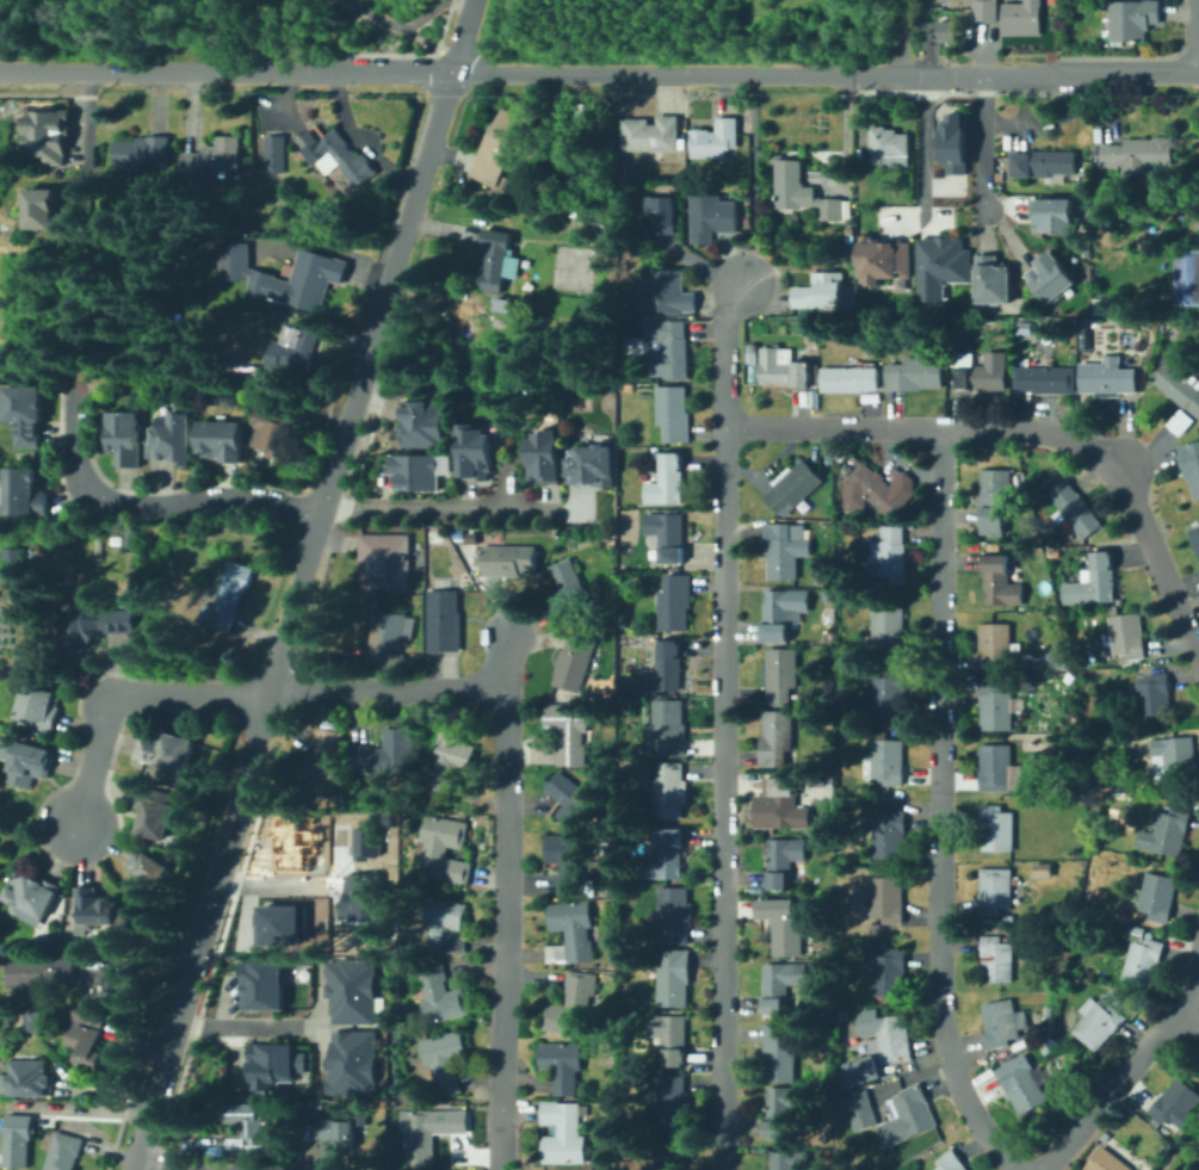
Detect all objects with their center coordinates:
road: (268, 5)
road: (286, 5)
building: (985, 12)
building: (1022, 17)
building: (1133, 20)
road: (410, 21)
park: (214, 27)
building: (945, 27)
road: (194, 31)
road: (314, 31)
street lamp: (445, 36)
road: (1198, 36)
road: (464, 37)
road: (895, 37)
road: (410, 38)
road: (407, 52)
road: (1185, 52)
road: (1132, 55)
road: (443, 62)
road: (1126, 72)
road: (425, 73)
road: (952, 74)
road: (86, 82)
road: (1016, 91)
road: (48, 93)
building: (47, 134)
road: (85, 134)
building: (649, 134)
building: (716, 140)
road: (982, 141)
road: (922, 142)
building: (953, 142)
building: (500, 147)
building: (889, 147)
building: (146, 153)
building: (278, 153)
building: (1139, 154)
building: (336, 155)
building: (216, 157)
building: (1044, 163)
road: (749, 178)
building: (625, 182)
building: (801, 188)
building: (661, 211)
building: (54, 215)
building: (1057, 215)
road: (410, 216)
building: (711, 217)
building: (744, 221)
building: (847, 222)
building: (601, 230)
building: (848, 239)
building: (624, 252)
building: (1087, 252)
building: (885, 256)
building: (497, 260)
building: (941, 266)
building: (1053, 276)
building: (1191, 277)
building: (254, 278)
building: (996, 279)
building: (901, 283)
building: (667, 290)
building: (817, 292)
building: (505, 303)
building: (947, 307)
building: (958, 327)
building: (1025, 329)
building: (1083, 338)
building: (672, 345)
building: (750, 347)
building: (296, 354)
building: (783, 369)
building: (247, 371)
building: (981, 371)
building: (915, 373)
building: (849, 377)
building: (1107, 377)
building: (1045, 379)
building: (1181, 386)
building: (814, 397)
building: (674, 413)
building: (27, 414)
building: (425, 423)
road: (1026, 427)
building: (279, 428)
road: (344, 435)
building: (125, 438)
building: (175, 439)
building: (225, 440)
building: (477, 452)
building: (828, 456)
building: (546, 457)
building: (853, 460)
building: (1191, 463)
building: (593, 465)
building: (846, 468)
building: (415, 471)
building: (666, 479)
building: (793, 485)
road: (506, 487)
building: (877, 490)
building: (26, 494)
building: (994, 500)
road: (149, 508)
road: (455, 508)
building: (1076, 508)
building: (667, 534)
building: (131, 538)
building: (1194, 538)
building: (785, 549)
building: (1055, 551)
building: (886, 558)
building: (508, 559)
building: (384, 561)
building: (18, 567)
building: (818, 578)
building: (1094, 580)
building: (481, 581)
building: (1001, 581)
building: (569, 589)
building: (465, 594)
building: (829, 595)
building: (229, 598)
building: (674, 602)
road: (298, 603)
building: (780, 612)
building: (445, 619)
building: (95, 624)
building: (888, 627)
building: (390, 630)
building: (1127, 634)
building: (995, 645)
building: (852, 648)
building: (1062, 650)
building: (900, 660)
building: (573, 661)
building: (408, 663)
building: (1025, 664)
building: (665, 667)
building: (1110, 674)
building: (780, 675)
building: (1019, 682)
road: (389, 687)
building: (890, 693)
road: (194, 695)
building: (1155, 697)
building: (638, 699)
building: (41, 705)
building: (996, 707)
road: (722, 723)
building: (669, 728)
building: (568, 731)
building: (775, 737)
building: (1059, 737)
building: (1115, 738)
building: (1088, 742)
road: (260, 748)
building: (166, 749)
building: (1157, 750)
building: (385, 755)
building: (26, 760)
building: (1176, 760)
road: (99, 761)
building: (319, 762)
building: (885, 762)
building: (447, 763)
building: (995, 767)
building: (669, 790)
building: (571, 800)
building: (789, 806)
road: (938, 807)
building: (155, 812)
building: (996, 828)
building: (1166, 831)
building: (885, 832)
building: (364, 842)
building: (290, 843)
building: (443, 849)
building: (667, 854)
building: (784, 860)
building: (567, 862)
building: (829, 865)
building: (1043, 869)
building: (147, 873)
road: (274, 883)
building: (995, 890)
building: (1156, 894)
building: (30, 896)
building: (363, 896)
building: (888, 898)
road: (502, 902)
building: (821, 902)
building: (99, 911)
building: (673, 915)
building: (1008, 918)
building: (279, 923)
building: (444, 926)
building: (786, 926)
building: (874, 928)
building: (570, 933)
road: (202, 946)
building: (1143, 955)
building: (996, 958)
building: (41, 972)
building: (890, 972)
building: (673, 977)
building: (260, 984)
building: (780, 984)
building: (128, 989)
building: (350, 989)
building: (92, 991)
building: (440, 992)
building: (571, 1005)
road: (1193, 1007)
building: (842, 1014)
building: (1049, 1014)
building: (21, 1020)
building: (1098, 1021)
building: (1002, 1022)
road: (241, 1026)
building: (829, 1032)
building: (669, 1035)
building: (86, 1038)
building: (891, 1039)
building: (779, 1052)
building: (447, 1060)
building: (350, 1063)
building: (268, 1064)
building: (563, 1065)
road: (1133, 1065)
building: (859, 1069)
building: (876, 1070)
building: (890, 1075)
building: (29, 1078)
building: (1024, 1088)
building: (673, 1100)
building: (320, 1103)
building: (1176, 1103)
building: (298, 1104)
road: (95, 1108)
building: (860, 1108)
building: (286, 1109)
building: (778, 1110)
building: (906, 1115)
building: (246, 1122)
building: (432, 1125)
road: (148, 1129)
building: (338, 1132)
building: (564, 1133)
building: (13, 1138)
building: (235, 1143)
building: (64, 1151)
building: (357, 1156)
building: (668, 1159)
building: (784, 1159)
building: (951, 1160)
building: (1105, 1160)
building: (877, 1164)
road: (231, 1168)

